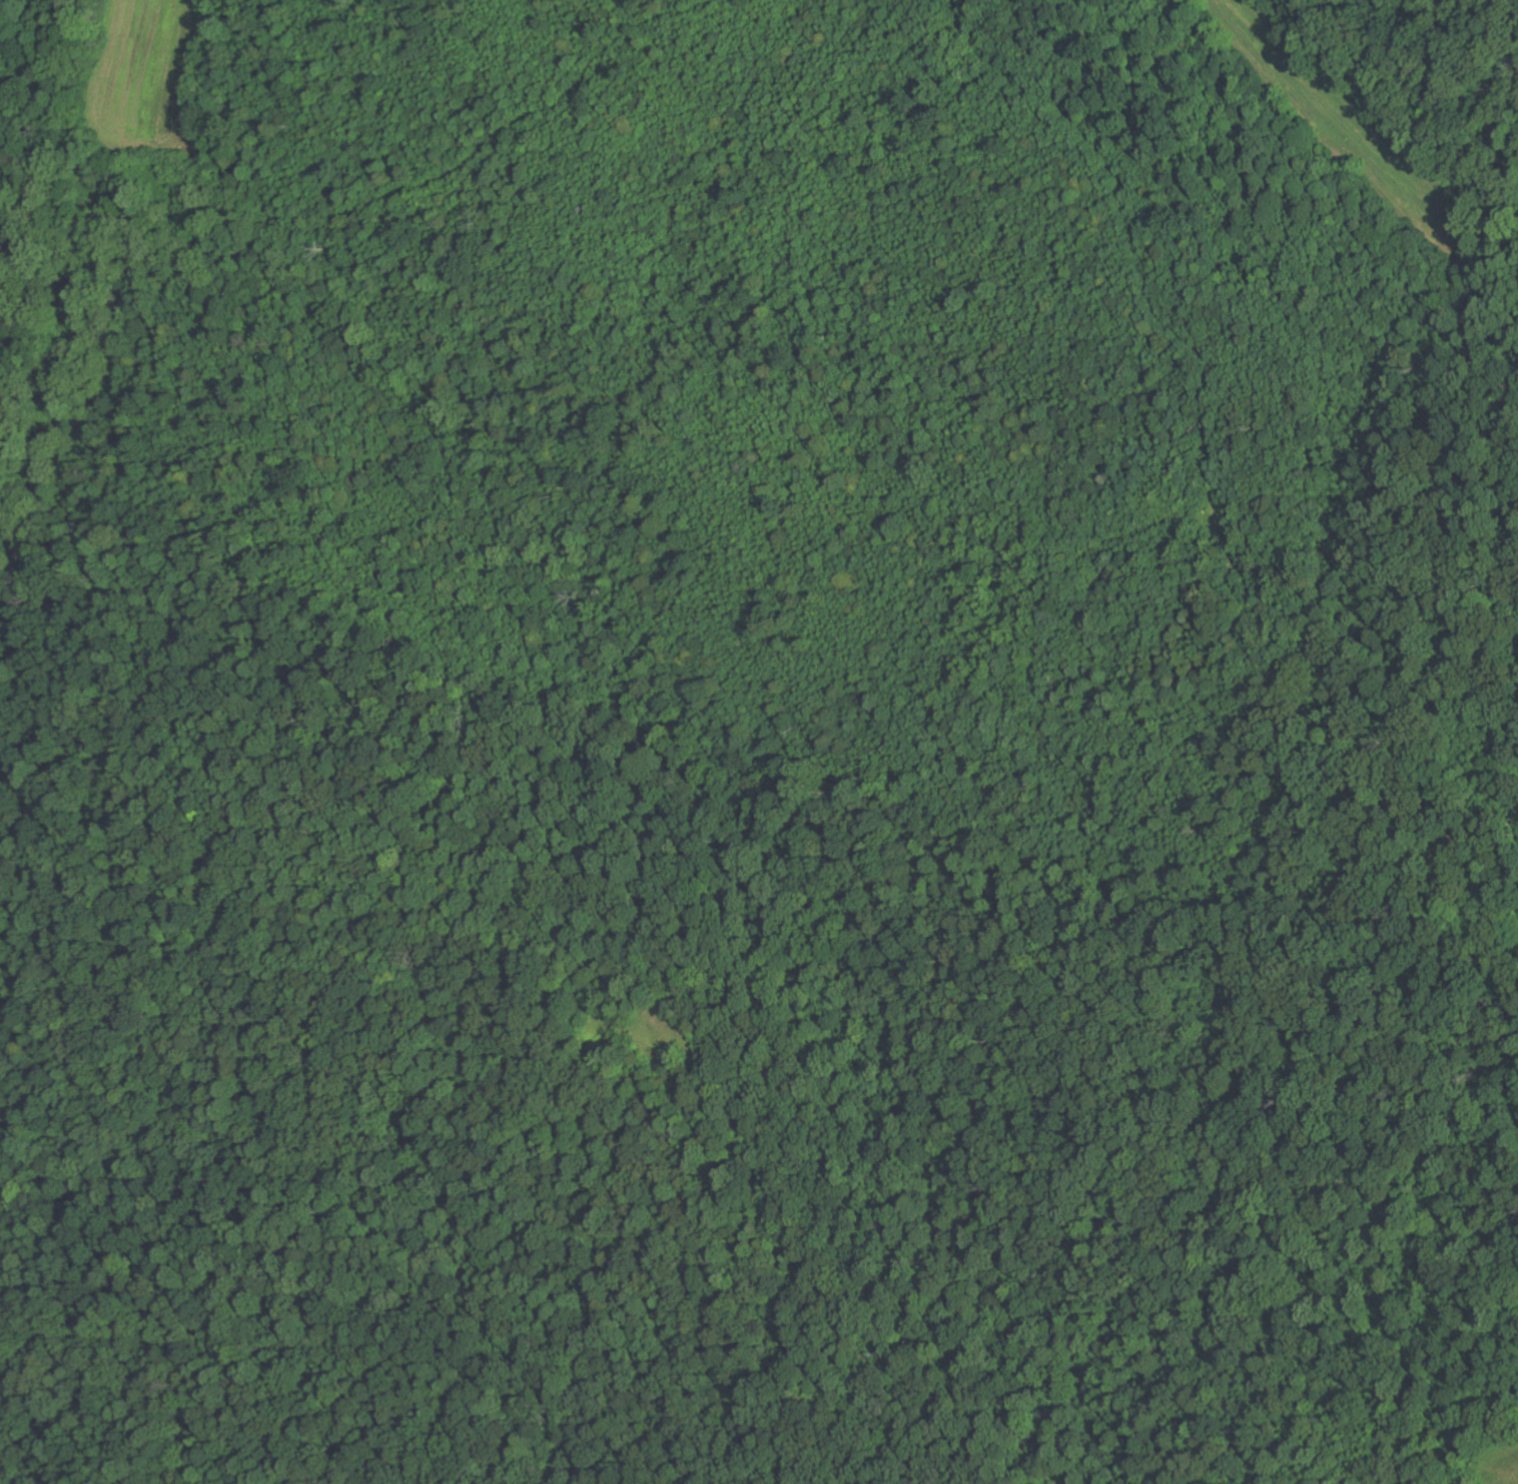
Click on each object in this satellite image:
road: (1158, 481)

